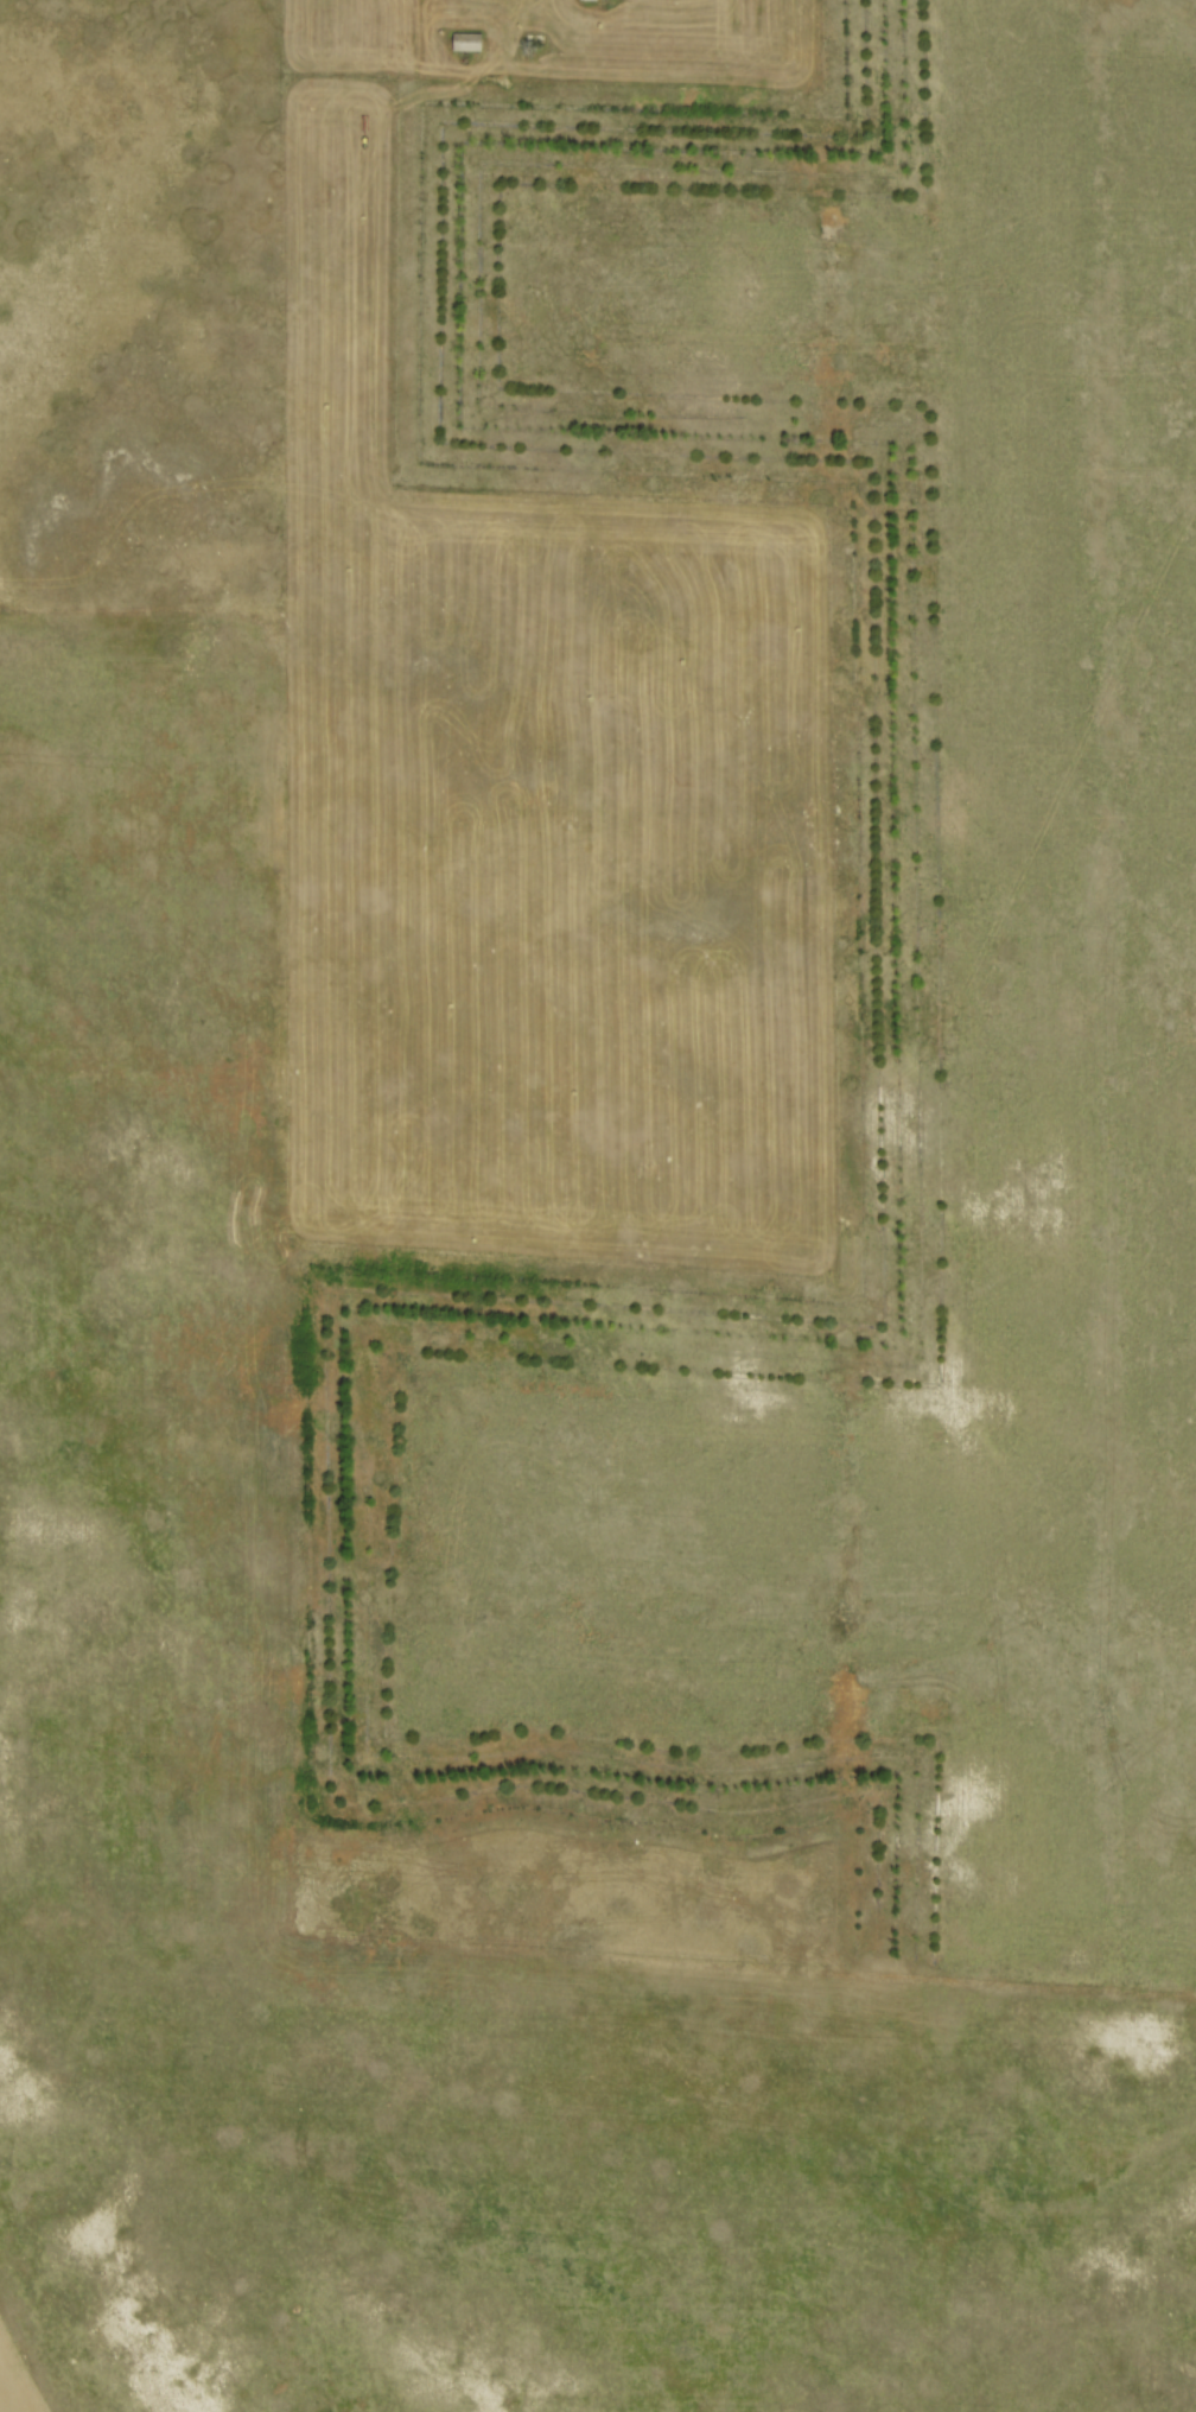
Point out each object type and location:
building: (466, 39)
crop: (20, 2372)

